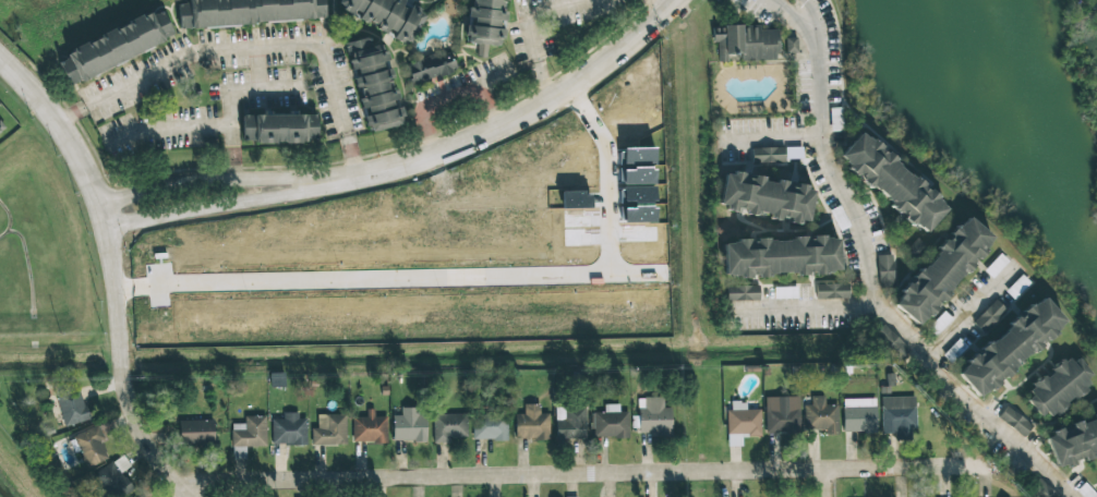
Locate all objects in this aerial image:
road: (665, 2)
building: (242, 11)
building: (386, 15)
building: (484, 24)
road: (528, 25)
building: (746, 43)
building: (791, 45)
building: (114, 46)
road: (246, 49)
building: (431, 65)
road: (257, 69)
building: (372, 81)
road: (263, 88)
road: (439, 98)
road: (489, 105)
road: (511, 121)
building: (1, 128)
building: (278, 128)
road: (164, 129)
road: (228, 134)
road: (772, 141)
building: (768, 155)
road: (203, 181)
building: (892, 182)
road: (83, 186)
building: (766, 197)
road: (208, 206)
building: (781, 256)
road: (867, 270)
building: (884, 270)
building: (942, 270)
building: (832, 291)
building: (785, 292)
building: (742, 293)
road: (799, 308)
road: (968, 312)
building: (989, 315)
building: (939, 323)
building: (890, 341)
building: (1011, 347)
building: (1059, 388)
building: (71, 404)
building: (859, 415)
building: (820, 416)
building: (897, 416)
building: (653, 417)
building: (781, 417)
building: (1014, 422)
road: (135, 423)
building: (570, 423)
building: (610, 423)
building: (742, 423)
building: (531, 424)
building: (409, 425)
building: (448, 427)
building: (490, 427)
building: (369, 428)
building: (288, 429)
building: (196, 431)
building: (329, 431)
building: (249, 432)
building: (1073, 441)
building: (89, 446)
building: (239, 452)
road: (578, 473)
building: (113, 478)
road: (821, 483)
building: (1041, 489)
building: (138, 496)

